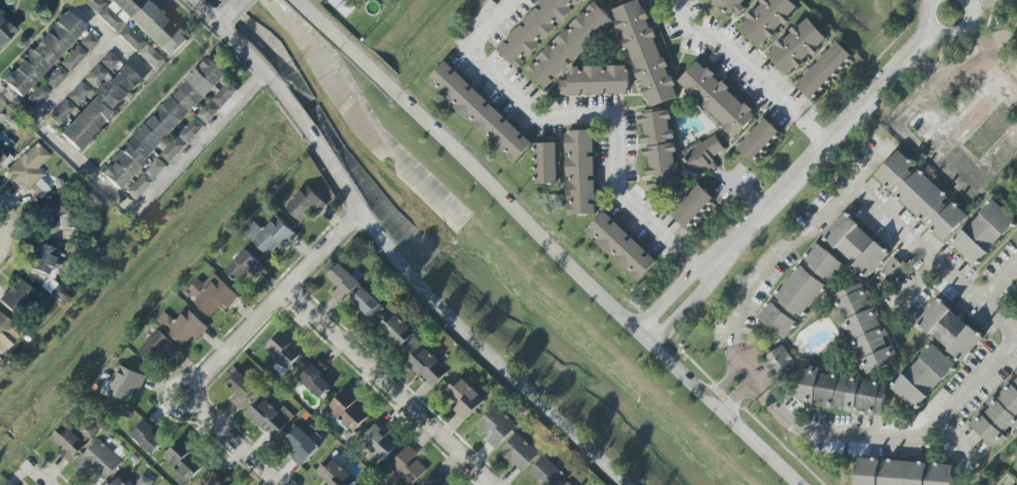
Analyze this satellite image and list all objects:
road: (976, 2)
building: (94, 5)
building: (341, 6)
building: (733, 6)
road: (233, 9)
building: (110, 18)
building: (767, 19)
road: (221, 21)
building: (151, 24)
building: (535, 30)
building: (5, 31)
road: (950, 36)
road: (112, 38)
building: (88, 42)
building: (569, 45)
building: (797, 46)
building: (140, 48)
building: (645, 53)
building: (42, 54)
road: (741, 57)
building: (73, 58)
building: (109, 61)
building: (823, 70)
building: (95, 76)
building: (55, 77)
road: (75, 80)
building: (596, 81)
building: (79, 94)
building: (38, 95)
building: (716, 99)
building: (217, 103)
building: (100, 108)
building: (61, 112)
building: (479, 112)
road: (576, 117)
building: (163, 124)
building: (181, 140)
building: (757, 140)
building: (3, 151)
building: (660, 151)
road: (823, 153)
building: (703, 156)
building: (546, 163)
building: (154, 169)
building: (29, 172)
building: (580, 173)
building: (138, 186)
road: (745, 194)
building: (921, 196)
building: (304, 205)
building: (692, 206)
road: (135, 209)
building: (54, 214)
road: (2, 221)
road: (904, 230)
building: (983, 232)
building: (270, 235)
road: (3, 239)
road: (545, 245)
building: (856, 245)
building: (620, 246)
road: (393, 255)
road: (694, 260)
building: (45, 264)
building: (244, 267)
building: (892, 268)
building: (343, 283)
road: (927, 283)
road: (1001, 284)
building: (800, 291)
building: (212, 294)
road: (668, 296)
building: (17, 297)
road: (276, 298)
building: (367, 303)
road: (684, 309)
building: (4, 327)
building: (183, 327)
building: (865, 329)
building: (396, 330)
building: (949, 330)
building: (158, 347)
building: (283, 349)
building: (780, 362)
building: (427, 367)
building: (923, 377)
building: (315, 382)
building: (126, 384)
road: (388, 387)
building: (241, 389)
road: (737, 391)
building: (842, 391)
building: (464, 398)
road: (786, 408)
building: (347, 410)
building: (998, 415)
building: (270, 416)
building: (496, 426)
building: (147, 437)
building: (379, 440)
road: (231, 441)
building: (68, 444)
road: (963, 444)
building: (301, 446)
building: (519, 453)
building: (98, 461)
building: (183, 464)
building: (407, 466)
building: (334, 473)
building: (546, 473)
building: (901, 473)
road: (34, 474)
building: (180, 480)
building: (213, 480)
building: (434, 480)
building: (144, 481)
building: (117, 482)
building: (7, 483)
building: (567, 484)

